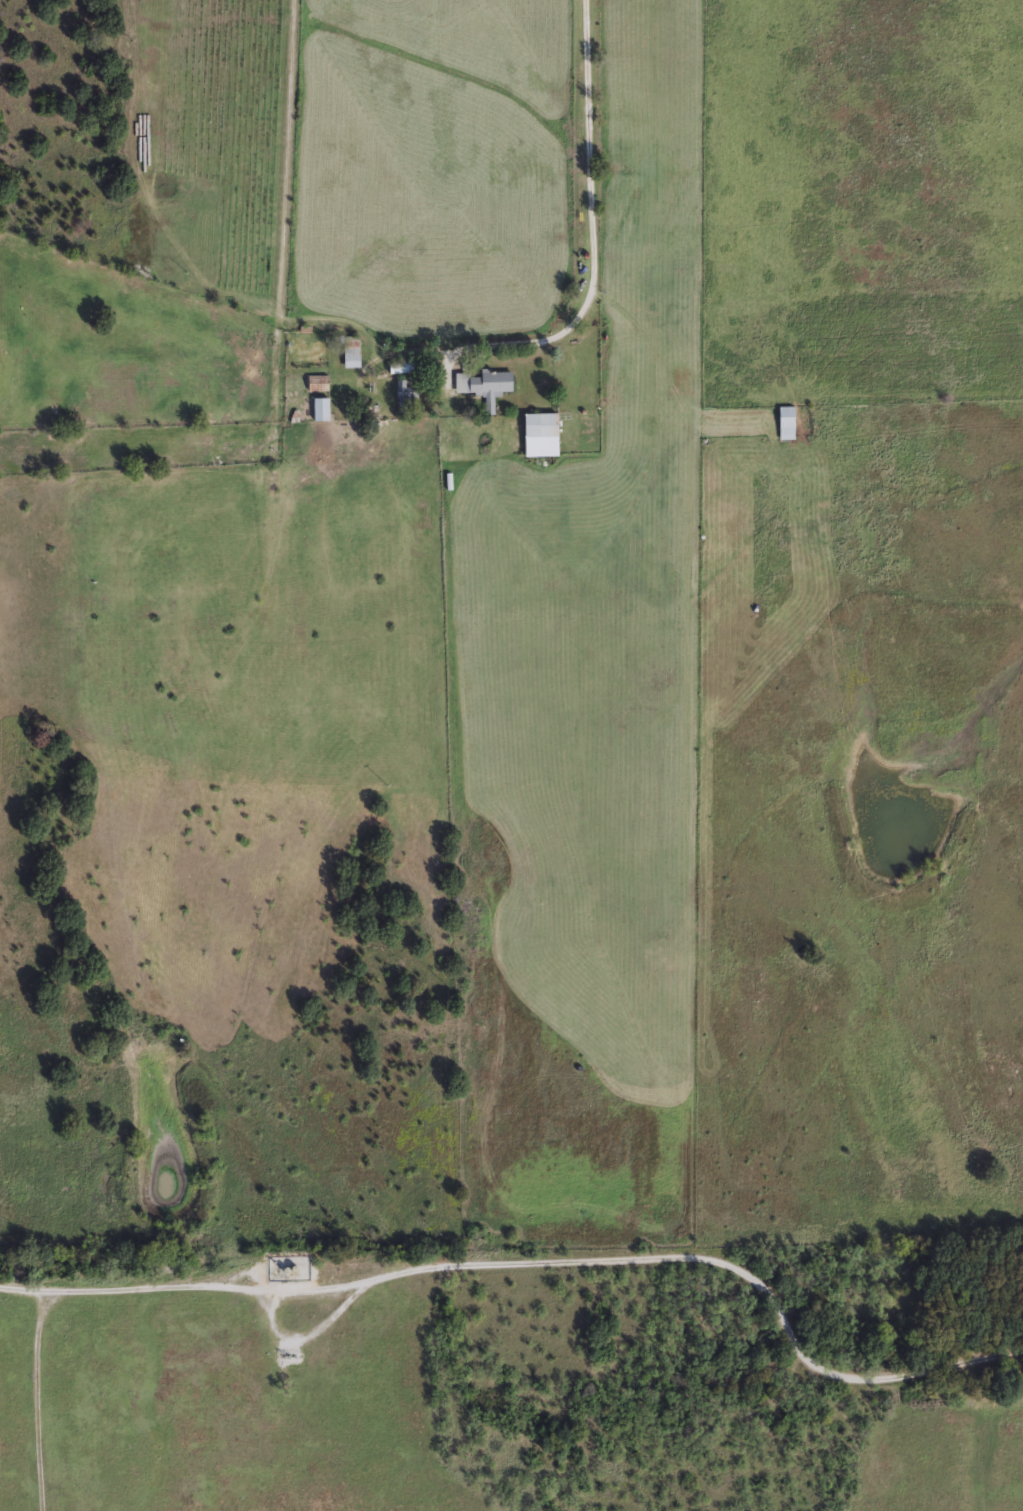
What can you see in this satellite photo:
road: (589, 229)
building: (351, 351)
building: (399, 367)
building: (317, 382)
building: (485, 385)
building: (404, 391)
building: (320, 408)
building: (784, 422)
building: (538, 434)
road: (538, 1261)

